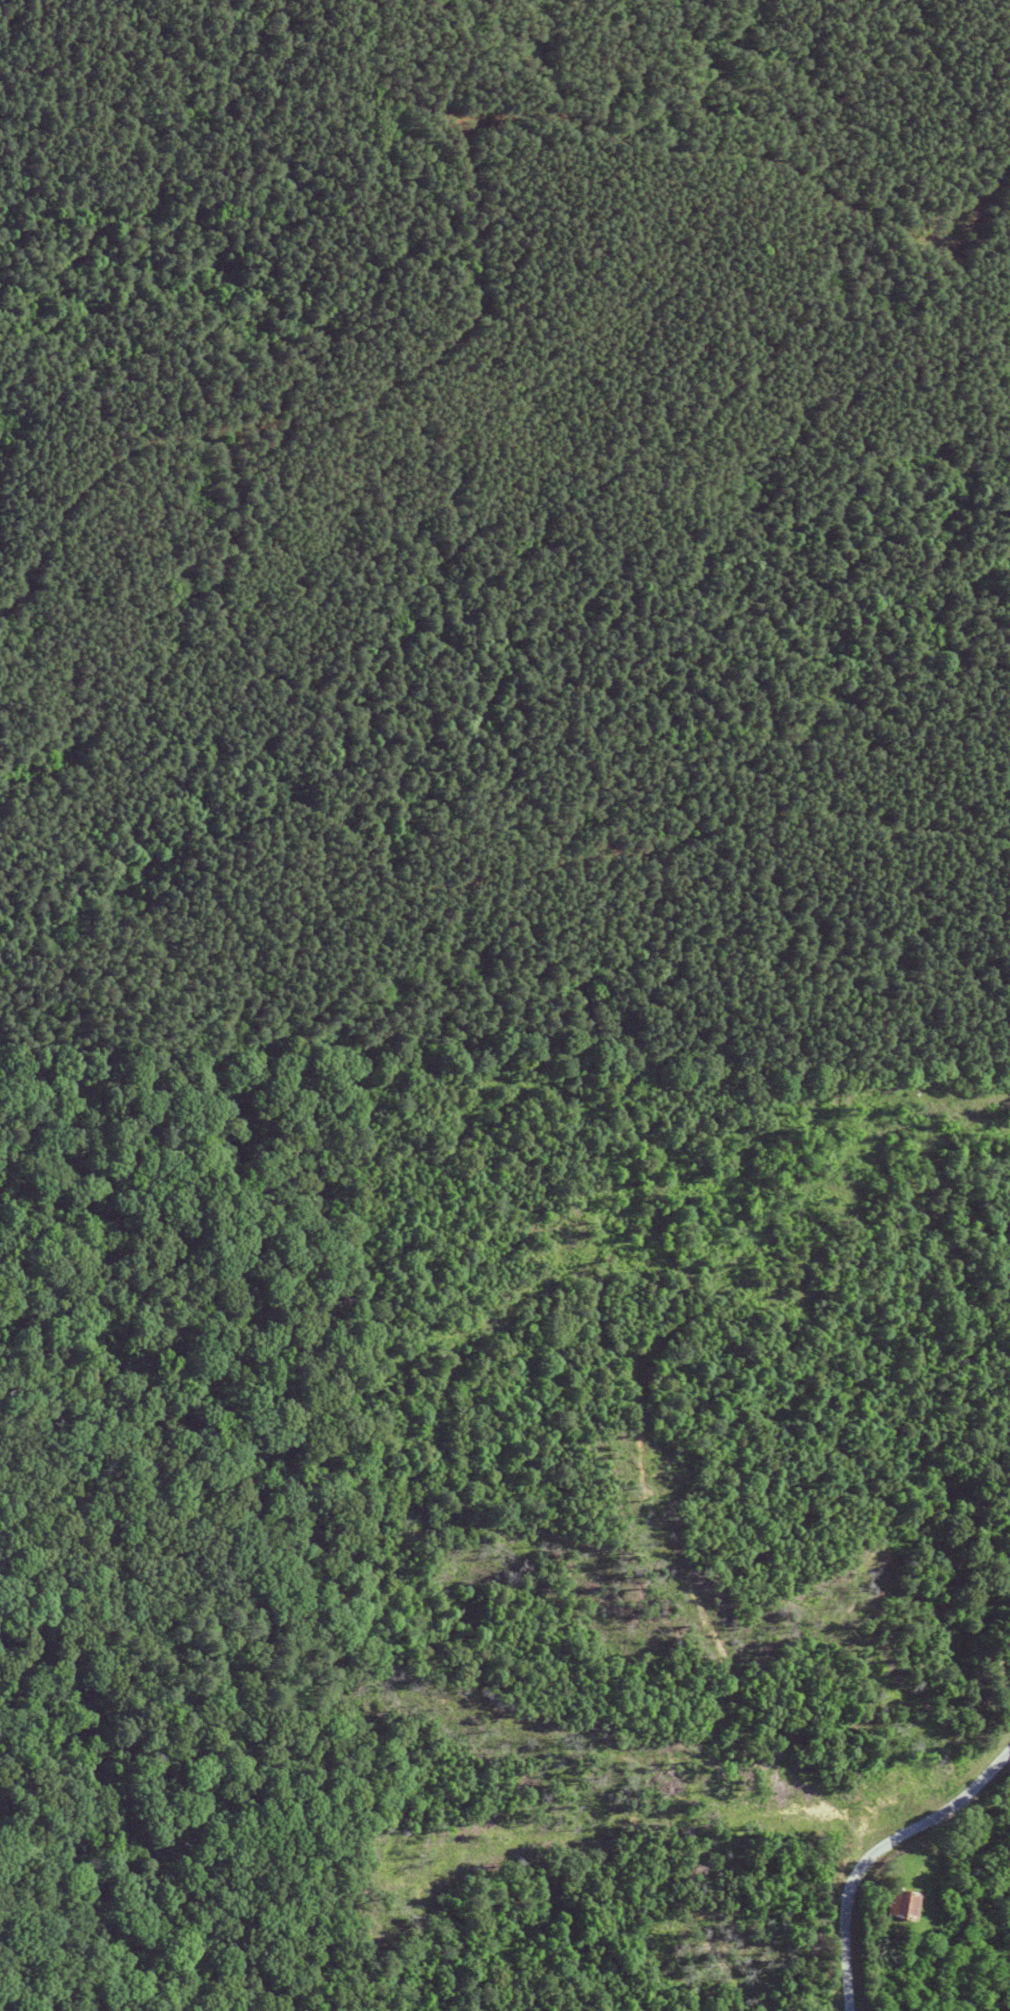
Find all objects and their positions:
road: (878, 1838)
building: (896, 1906)

